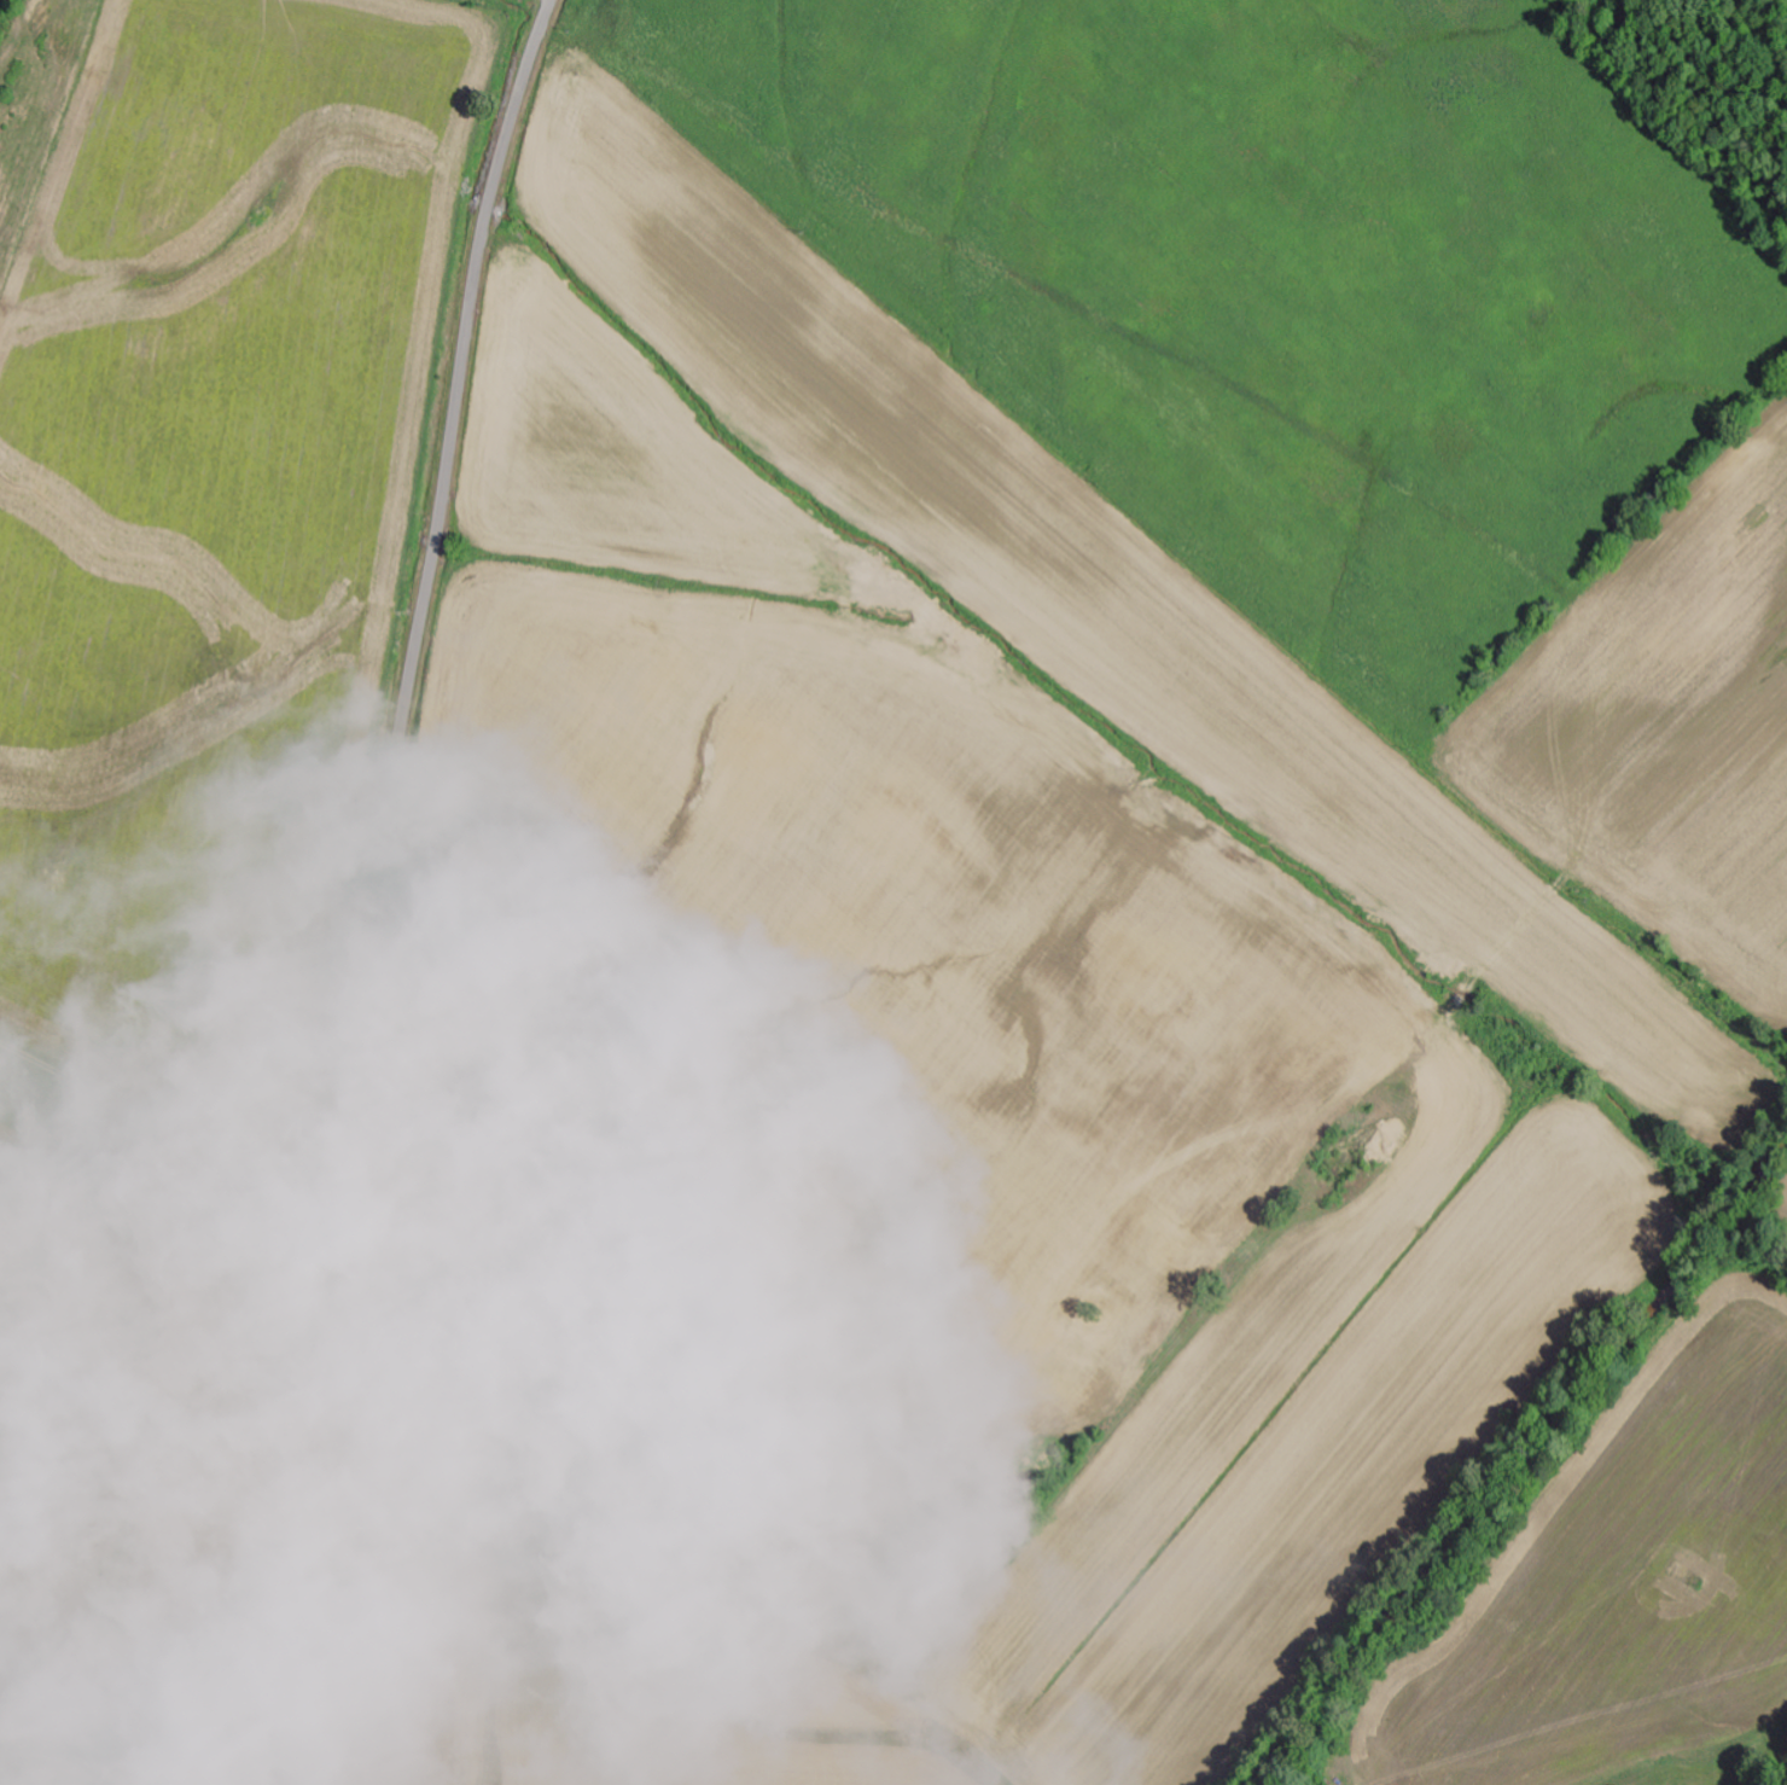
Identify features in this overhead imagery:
road: (374, 884)
building: (124, 1188)
building: (192, 1197)
building: (130, 1297)
building: (487, 1316)

